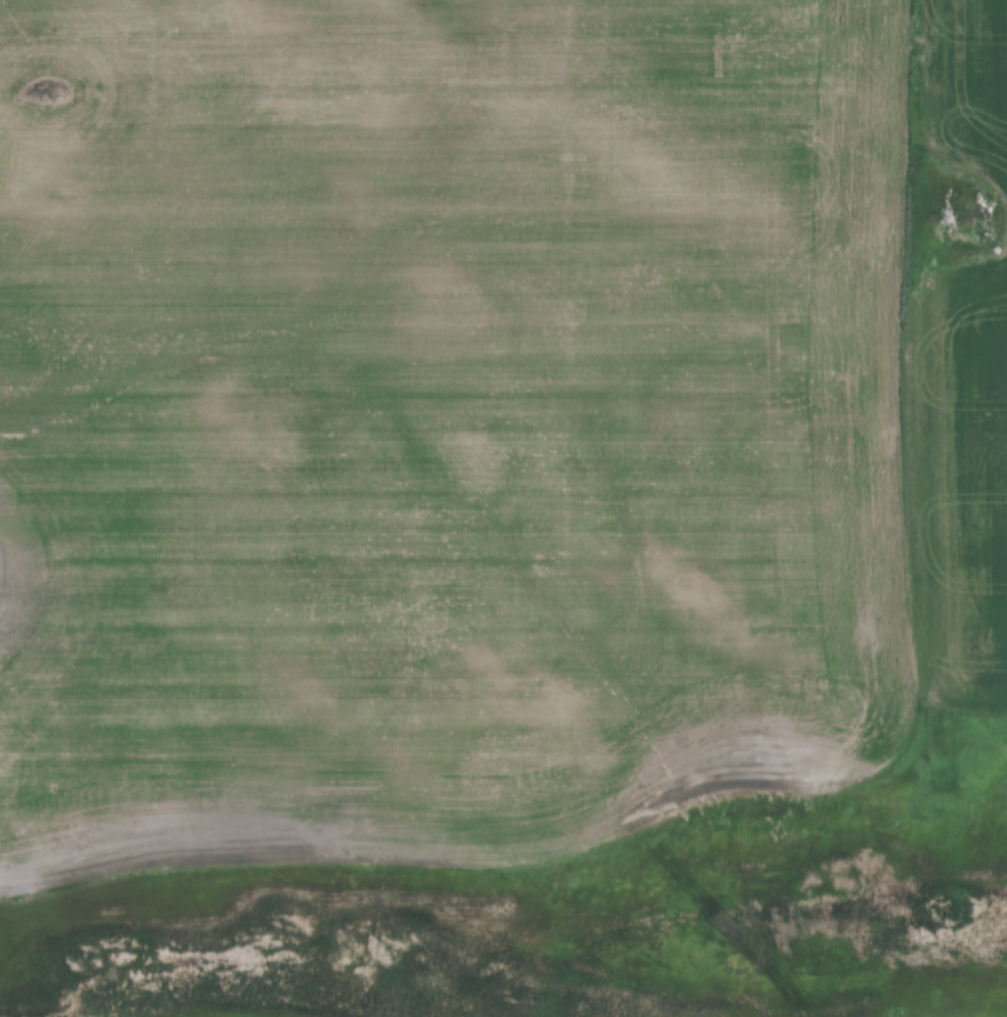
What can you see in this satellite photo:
crop: (969, 82)
crop: (965, 472)

